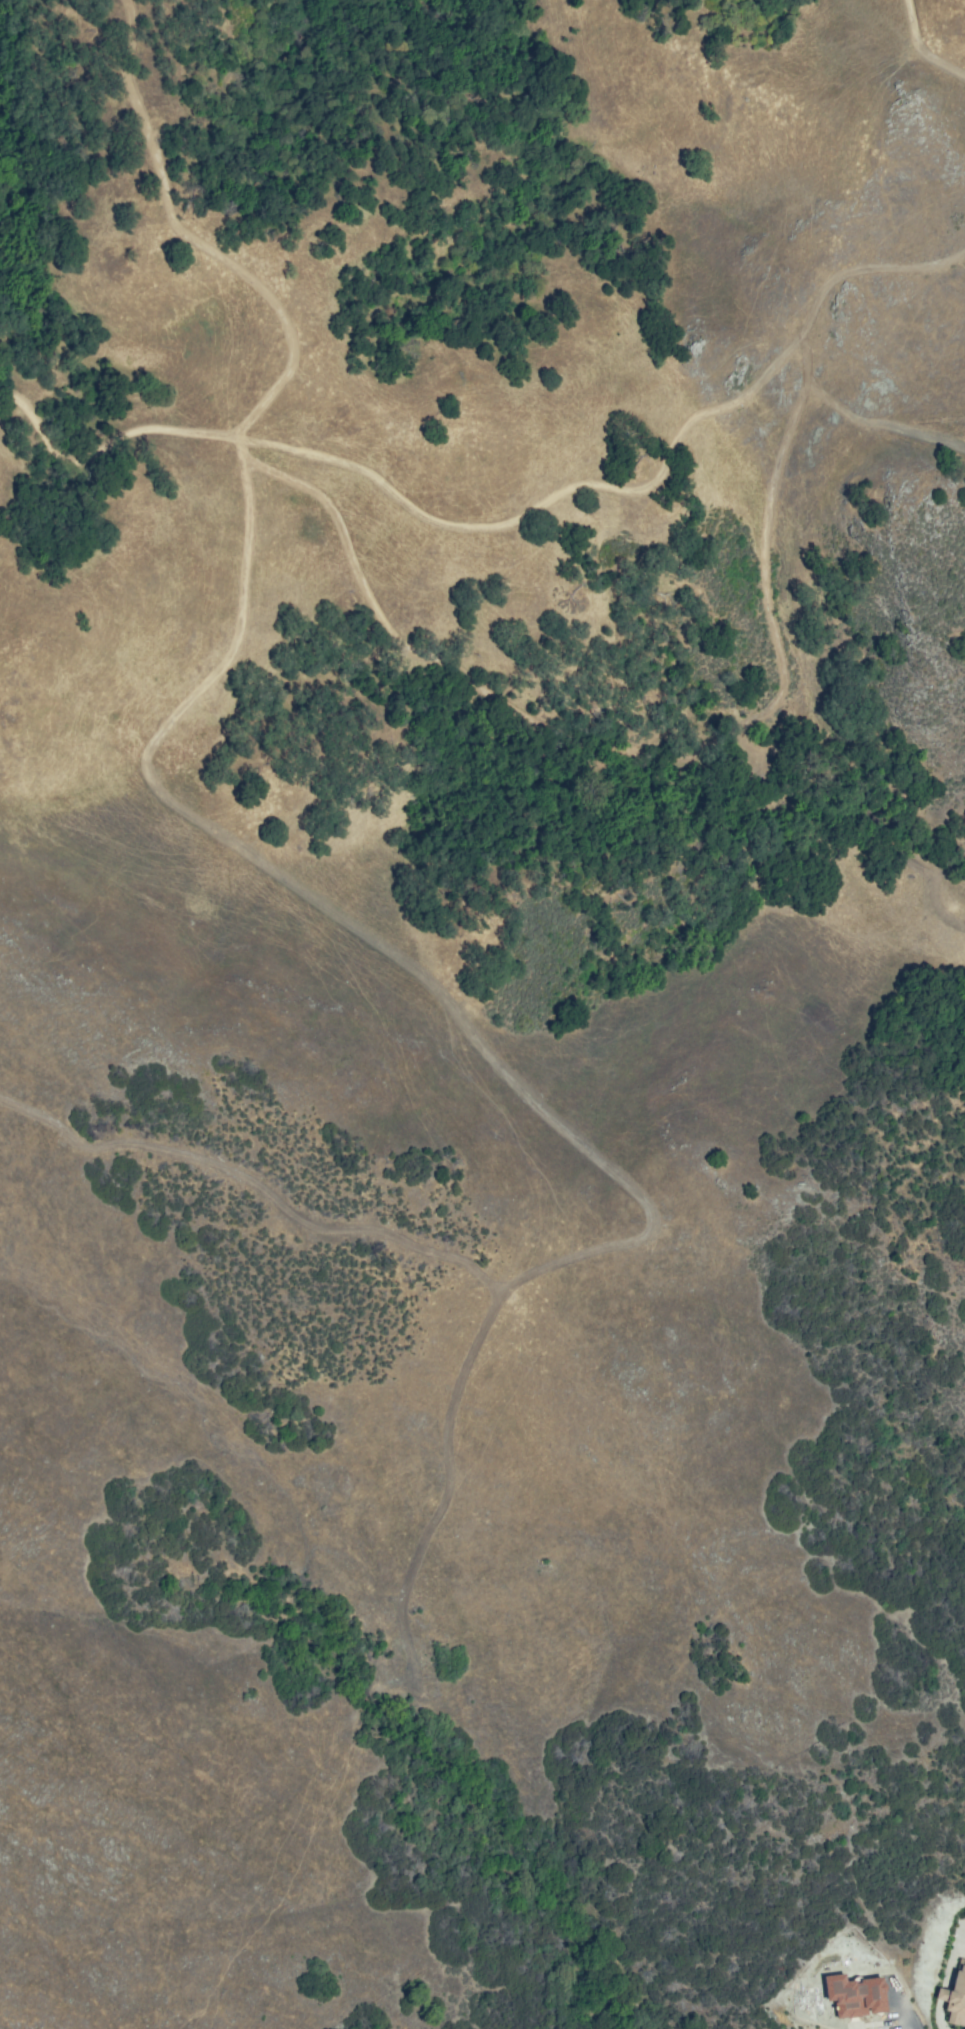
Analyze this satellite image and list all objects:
building: (861, 1994)
building: (957, 1998)
road: (911, 2018)
road: (943, 2018)

